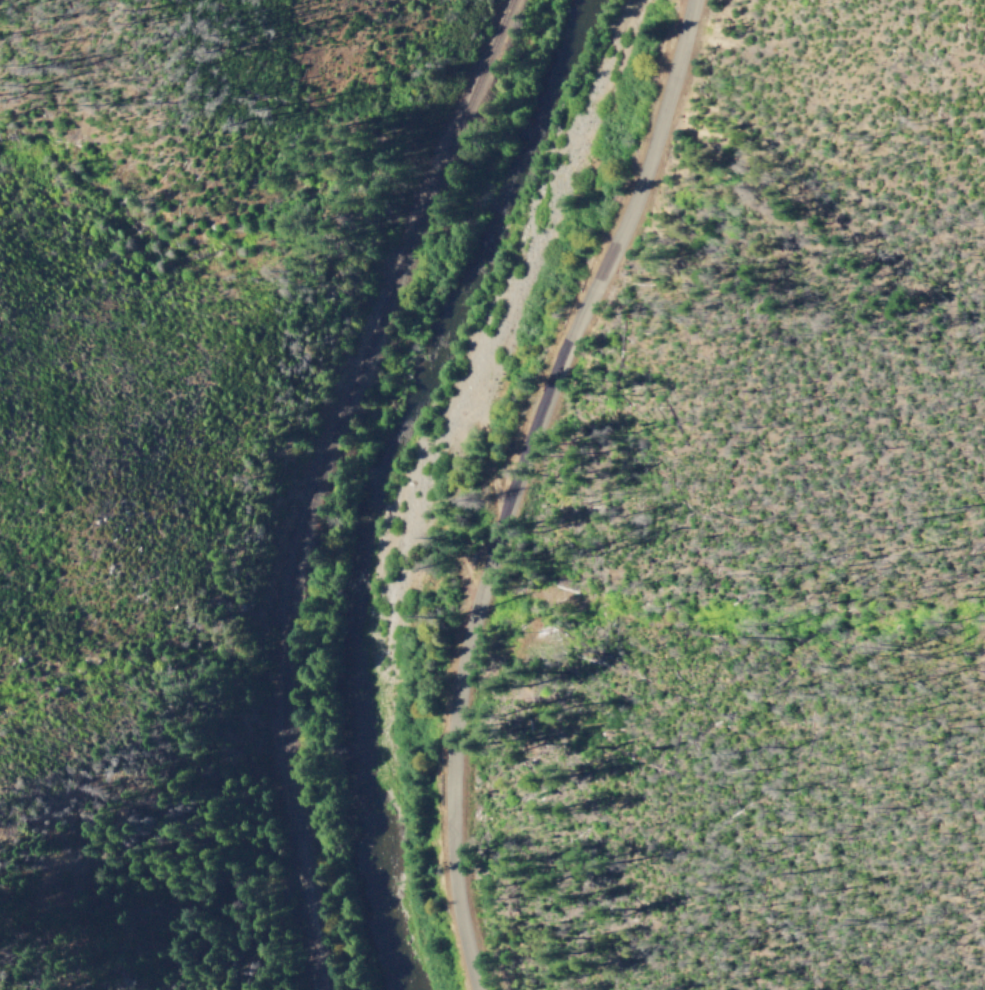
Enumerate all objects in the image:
railway: (317, 480)
road: (530, 487)

